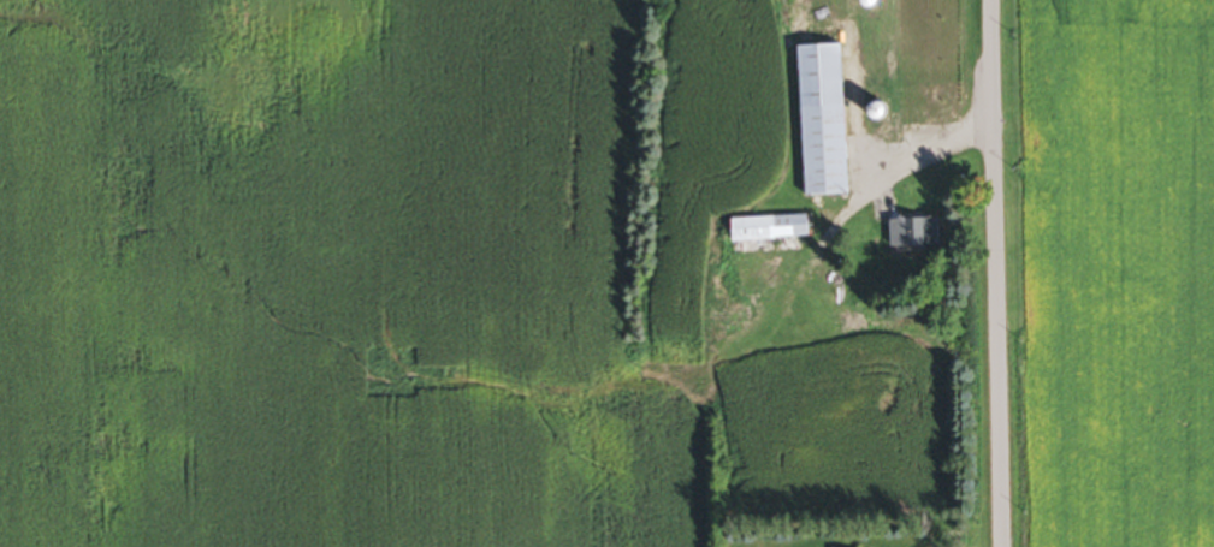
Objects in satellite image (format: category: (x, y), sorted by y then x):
building: (896, 23)
building: (895, 60)
building: (896, 102)
building: (816, 124)
road: (861, 186)
building: (771, 231)
building: (919, 233)
road: (996, 273)

